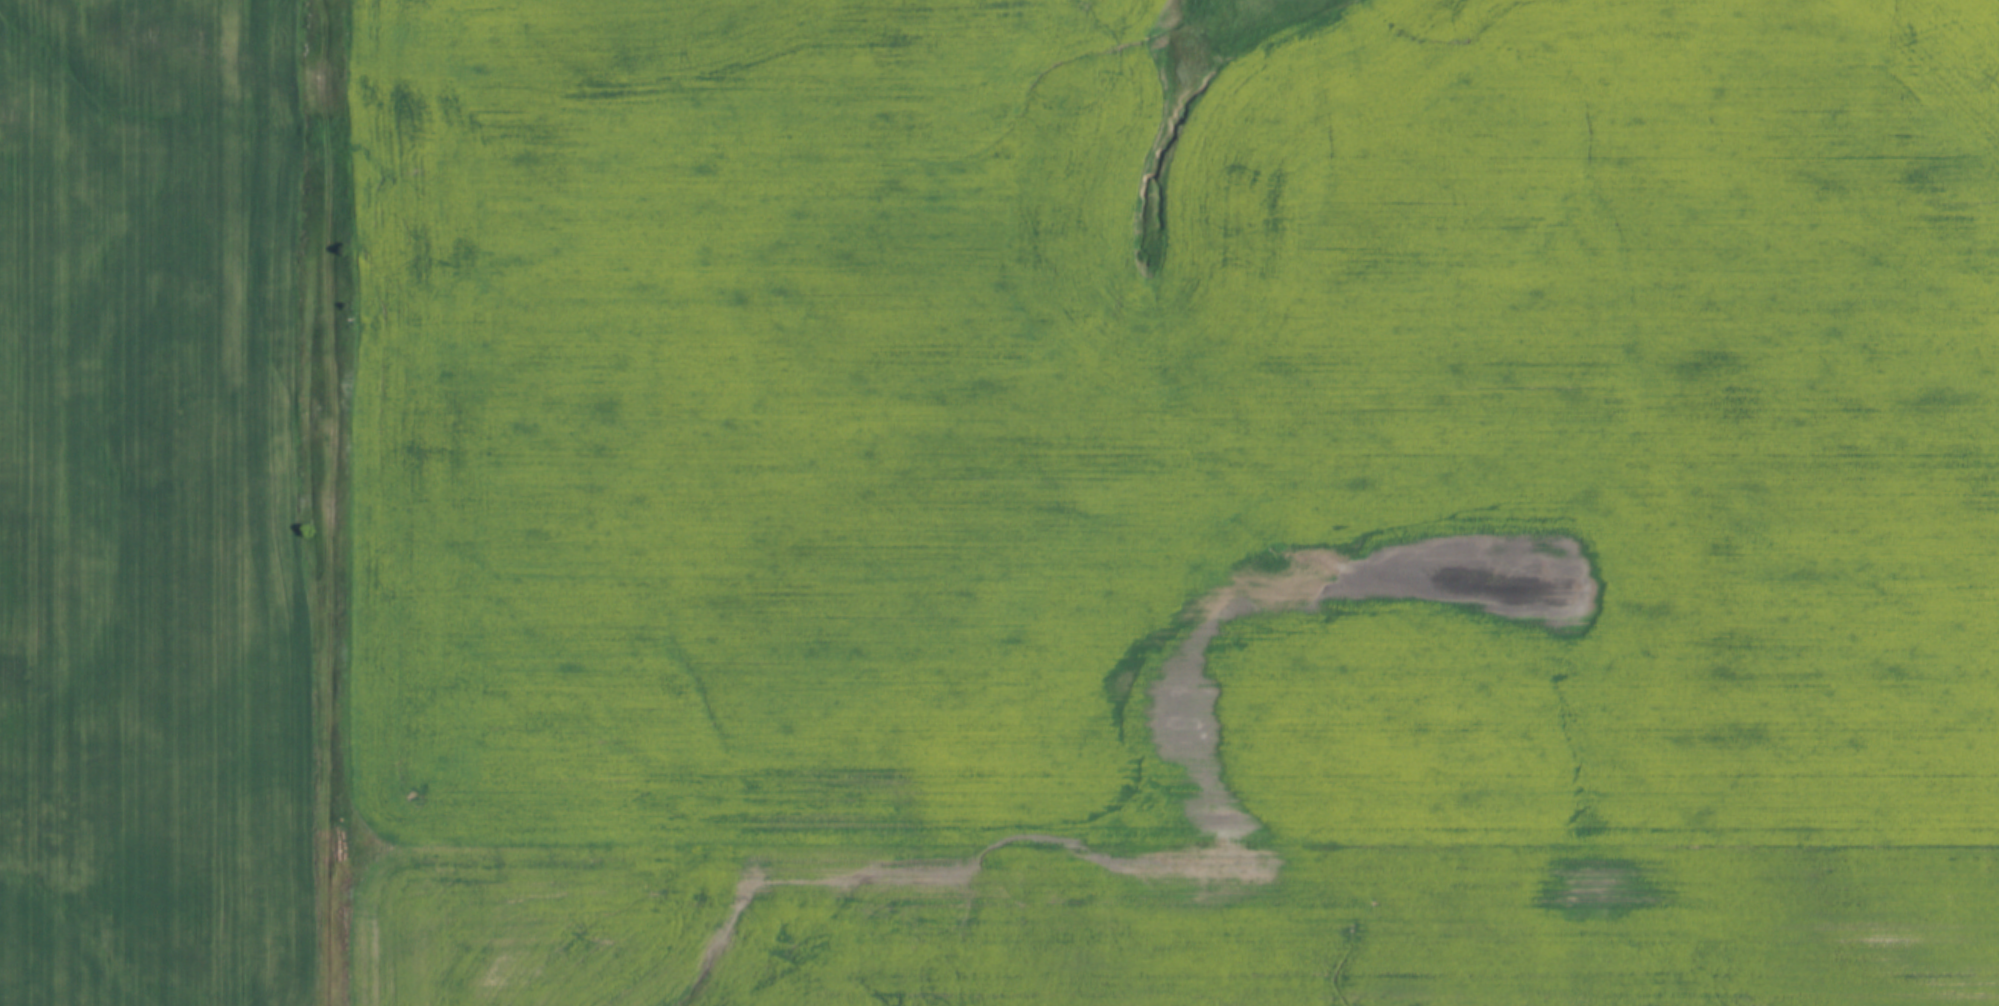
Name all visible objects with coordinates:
road: (329, 502)

